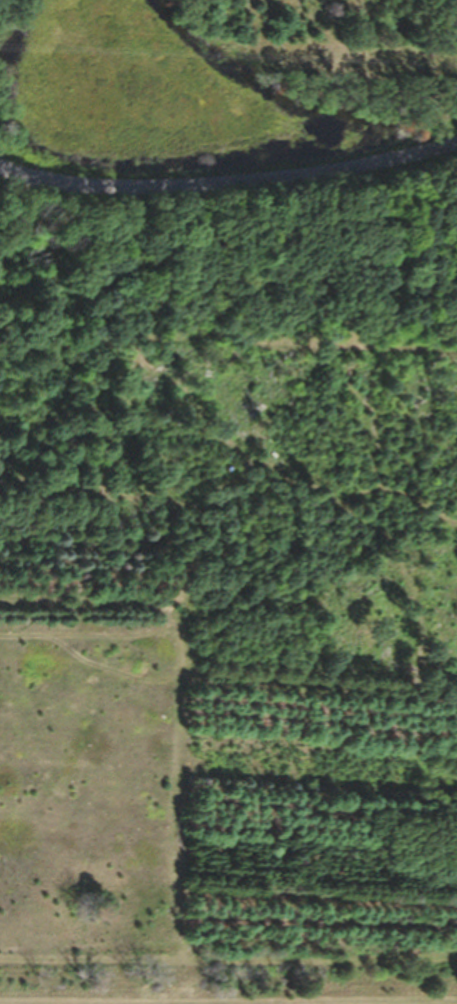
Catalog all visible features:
road: (226, 194)

